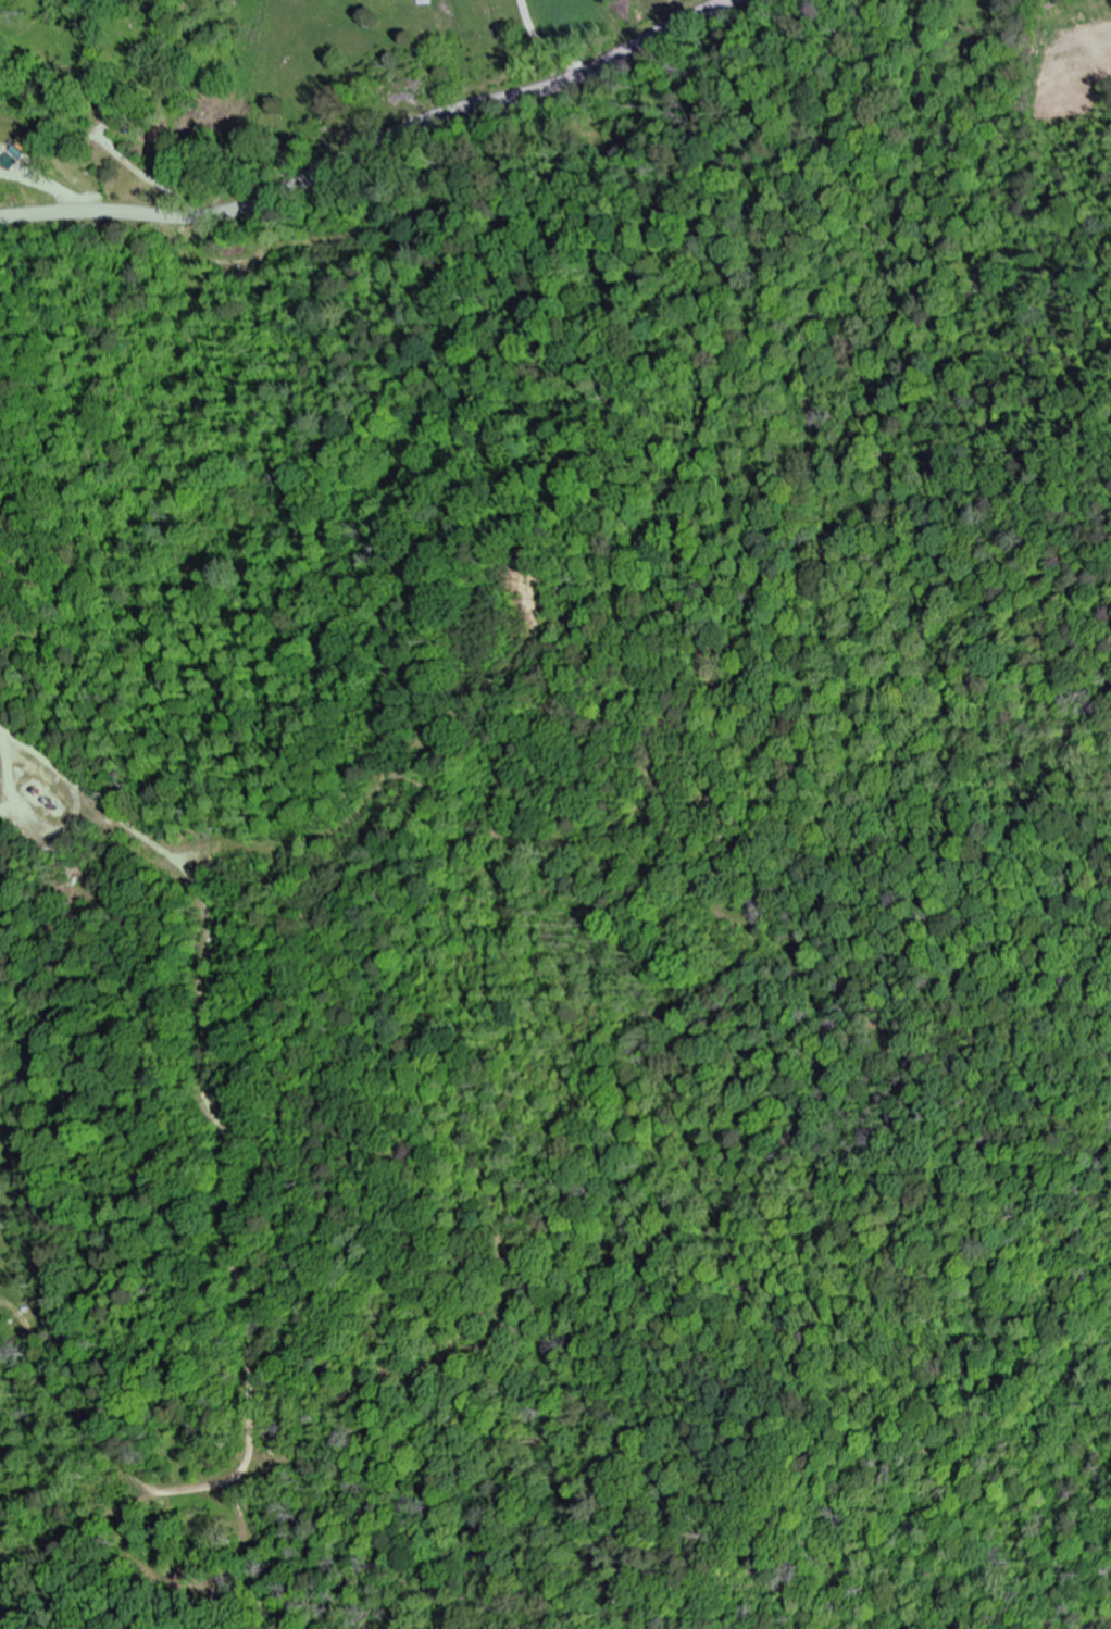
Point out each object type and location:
road: (540, 47)
road: (371, 146)
road: (985, 312)

